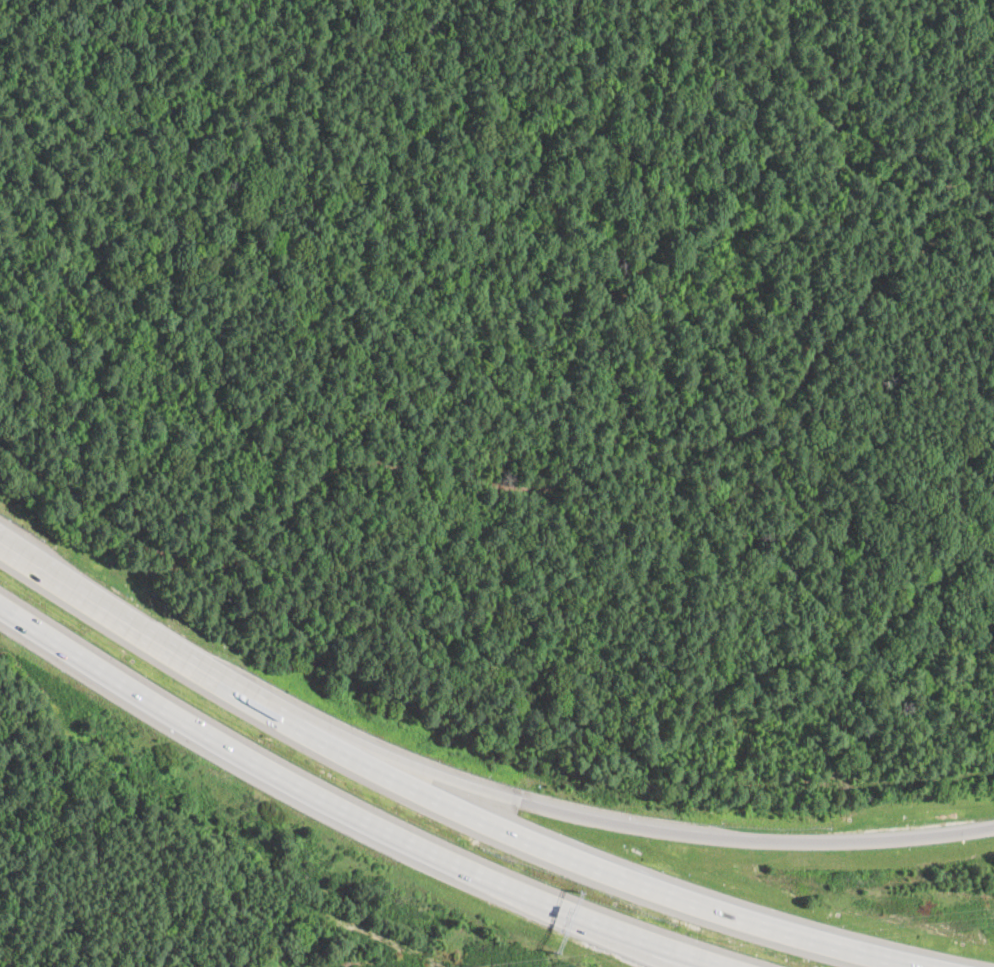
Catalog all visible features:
road: (451, 803)
road: (350, 817)
road: (638, 826)
road: (648, 951)

